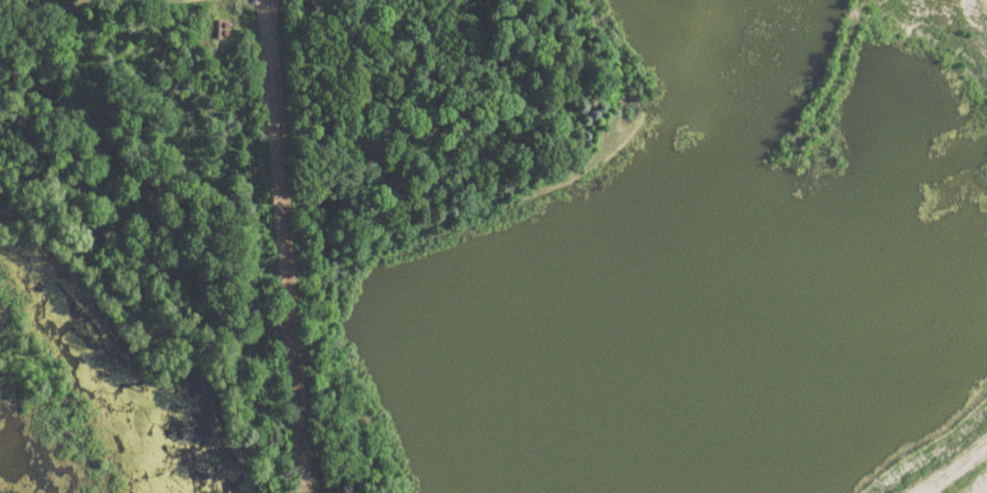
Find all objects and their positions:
road: (251, 0)
road: (98, 3)
road: (286, 246)
road: (950, 464)

